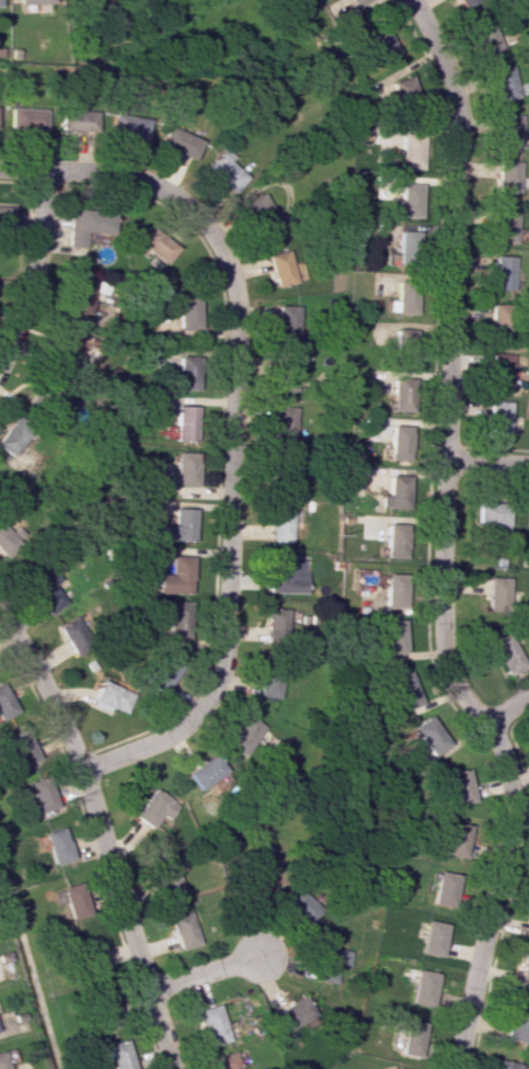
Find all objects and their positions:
building: (80, 0)
building: (34, 1)
building: (464, 2)
building: (358, 4)
building: (487, 37)
building: (382, 44)
building: (504, 83)
building: (402, 89)
building: (26, 118)
building: (77, 120)
building: (128, 127)
building: (509, 130)
building: (179, 143)
building: (409, 149)
building: (223, 170)
building: (508, 177)
road: (146, 182)
building: (404, 202)
building: (5, 215)
building: (261, 215)
building: (87, 225)
building: (505, 225)
building: (154, 244)
building: (405, 247)
road: (34, 268)
building: (280, 268)
building: (503, 272)
building: (79, 294)
building: (403, 295)
building: (185, 312)
building: (501, 319)
building: (286, 322)
building: (400, 337)
building: (69, 343)
building: (501, 368)
building: (184, 372)
building: (400, 391)
building: (498, 417)
building: (183, 422)
building: (283, 423)
building: (398, 442)
road: (487, 463)
building: (183, 468)
building: (283, 474)
building: (355, 475)
building: (394, 491)
building: (491, 514)
building: (526, 515)
building: (278, 524)
building: (177, 525)
road: (440, 539)
building: (393, 541)
building: (4, 545)
road: (227, 570)
building: (174, 576)
building: (285, 576)
building: (391, 590)
building: (45, 591)
building: (494, 593)
building: (175, 619)
building: (277, 622)
building: (76, 634)
building: (392, 636)
building: (504, 653)
building: (161, 673)
building: (269, 684)
building: (402, 691)
building: (112, 696)
building: (4, 703)
road: (505, 710)
building: (244, 735)
building: (427, 736)
building: (25, 750)
building: (207, 771)
building: (455, 787)
building: (41, 794)
road: (92, 795)
building: (156, 808)
building: (450, 839)
building: (56, 845)
building: (169, 877)
building: (271, 880)
building: (441, 888)
building: (74, 900)
building: (303, 905)
building: (527, 926)
building: (185, 930)
building: (430, 937)
building: (89, 955)
building: (330, 963)
road: (206, 971)
building: (522, 973)
building: (423, 988)
building: (106, 1011)
building: (295, 1012)
building: (516, 1022)
building: (212, 1024)
road: (161, 1028)
building: (409, 1035)
building: (117, 1054)
building: (227, 1060)
building: (1, 1061)
building: (505, 1065)
building: (396, 1068)

